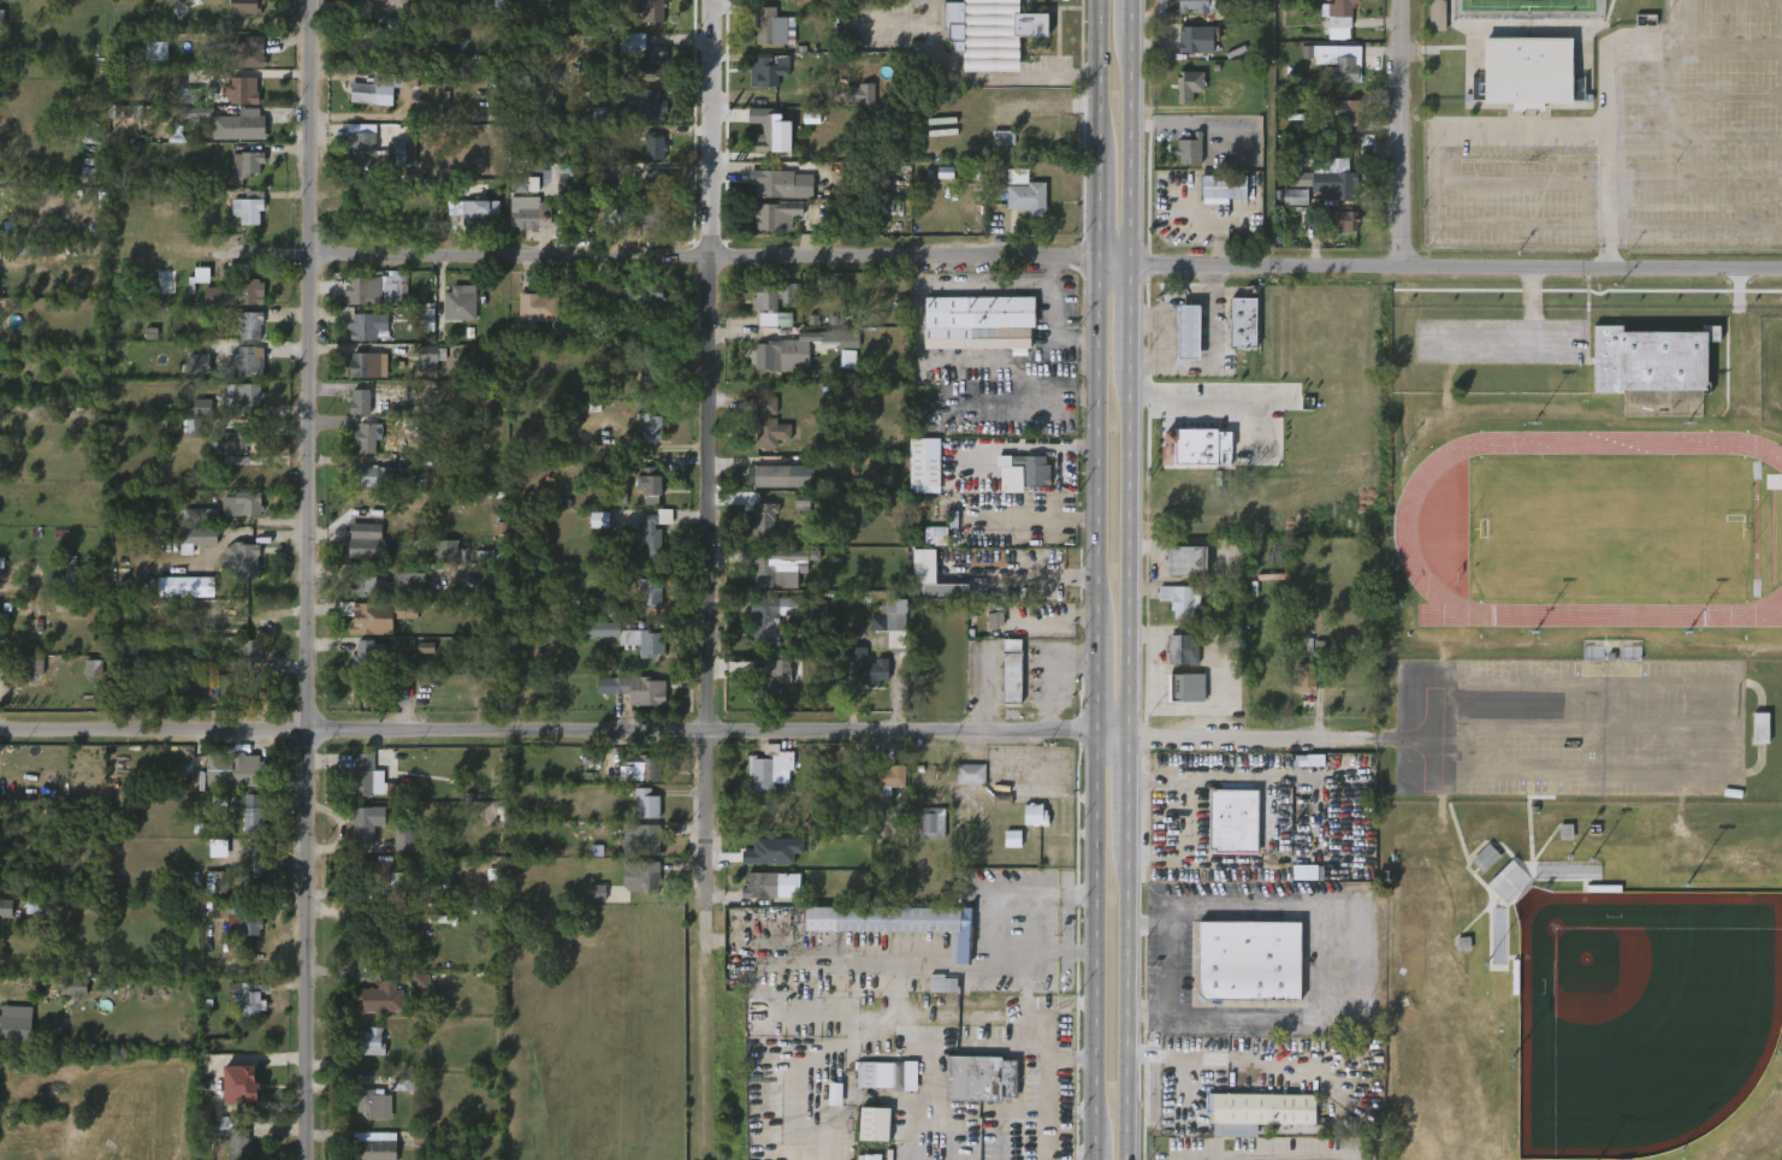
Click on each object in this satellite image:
building: (386, 0)
park: (1533, 4)
building: (249, 6)
building: (502, 6)
building: (586, 6)
building: (1196, 6)
building: (652, 10)
building: (1337, 12)
building: (1434, 14)
road: (1131, 18)
building: (0, 22)
building: (772, 25)
building: (988, 31)
building: (372, 37)
building: (1194, 37)
building: (641, 51)
building: (156, 52)
building: (255, 52)
building: (522, 58)
building: (1334, 64)
building: (772, 70)
building: (1528, 71)
road: (1100, 76)
road: (985, 77)
building: (434, 78)
building: (1186, 84)
building: (497, 88)
building: (244, 90)
building: (366, 91)
building: (1478, 93)
building: (858, 95)
building: (189, 96)
building: (643, 108)
building: (1339, 110)
building: (196, 113)
building: (600, 117)
road: (403, 119)
park: (1603, 123)
building: (248, 124)
building: (772, 131)
road: (1409, 136)
building: (1004, 138)
road: (1137, 142)
road: (1190, 143)
building: (655, 147)
building: (359, 149)
road: (1130, 150)
building: (1190, 150)
building: (401, 152)
building: (245, 164)
building: (1183, 165)
building: (946, 172)
building: (572, 174)
building: (769, 182)
building: (657, 183)
building: (1336, 183)
building: (525, 185)
building: (1222, 189)
building: (1023, 193)
building: (1295, 197)
building: (1216, 203)
building: (368, 205)
road: (1100, 208)
building: (247, 209)
building: (67, 212)
building: (482, 212)
building: (532, 212)
building: (641, 215)
building: (775, 215)
building: (1339, 219)
building: (6, 230)
building: (30, 249)
road: (665, 255)
road: (1114, 265)
road: (1455, 272)
building: (202, 276)
building: (235, 286)
road: (970, 286)
building: (375, 290)
building: (646, 294)
building: (772, 301)
road: (1050, 302)
building: (458, 306)
building: (535, 309)
building: (428, 319)
road: (1130, 319)
building: (977, 322)
building: (1243, 324)
building: (249, 326)
building: (369, 326)
building: (1188, 333)
road: (1068, 342)
building: (792, 356)
building: (431, 357)
building: (847, 359)
building: (1651, 361)
building: (199, 363)
building: (245, 363)
building: (651, 363)
building: (369, 365)
building: (242, 395)
road: (1222, 396)
building: (362, 402)
building: (202, 407)
building: (0, 421)
building: (769, 425)
building: (650, 427)
building: (199, 428)
building: (368, 438)
building: (231, 442)
road: (1097, 442)
building: (1196, 448)
building: (924, 466)
building: (1032, 468)
building: (380, 473)
building: (770, 474)
building: (1010, 477)
road: (709, 478)
building: (649, 484)
building: (617, 495)
building: (245, 504)
building: (200, 516)
road: (1034, 517)
building: (766, 519)
building: (599, 520)
building: (652, 529)
building: (936, 535)
building: (196, 539)
building: (365, 541)
park: (1611, 548)
building: (449, 550)
road: (1129, 555)
building: (1186, 558)
building: (243, 561)
building: (1, 563)
building: (777, 563)
building: (924, 567)
road: (1025, 575)
road: (304, 579)
building: (386, 584)
building: (187, 586)
building: (493, 591)
building: (650, 592)
building: (946, 592)
building: (1182, 600)
building: (120, 615)
building: (895, 615)
building: (367, 617)
building: (995, 620)
building: (764, 621)
building: (626, 637)
building: (1184, 650)
building: (244, 656)
building: (32, 665)
building: (868, 665)
building: (93, 668)
building: (1012, 669)
road: (1047, 673)
building: (368, 674)
building: (1306, 677)
road: (1096, 679)
building: (771, 682)
building: (1179, 687)
building: (251, 690)
building: (644, 691)
road: (985, 692)
road: (1423, 709)
park: (1588, 722)
road: (1574, 727)
parking lot: (1569, 728)
building: (1758, 728)
road: (547, 730)
road: (1248, 738)
road: (1112, 739)
building: (593, 757)
building: (231, 769)
building: (641, 769)
building: (766, 770)
building: (970, 774)
road: (1723, 774)
building: (361, 775)
building: (887, 777)
road: (1127, 792)
building: (1002, 800)
building: (645, 803)
building: (251, 815)
building: (1034, 815)
road: (1320, 818)
building: (1233, 822)
building: (929, 823)
building: (895, 824)
building: (862, 825)
road: (339, 829)
building: (362, 834)
building: (651, 838)
building: (1012, 839)
building: (1485, 858)
building: (375, 870)
building: (250, 871)
building: (1308, 872)
building: (493, 874)
building: (644, 877)
building: (217, 883)
building: (758, 886)
building: (597, 893)
building: (32, 907)
building: (6, 909)
building: (245, 917)
building: (437, 919)
building: (913, 923)
road: (994, 933)
road: (1095, 937)
building: (385, 942)
road: (884, 952)
road: (1321, 957)
building: (1250, 961)
road: (1166, 967)
building: (421, 982)
building: (939, 983)
building: (73, 987)
building: (249, 998)
building: (380, 999)
road: (1127, 1002)
park: (1639, 1022)
building: (14, 1024)
building: (373, 1043)
building: (887, 1073)
building: (978, 1078)
building: (241, 1084)
building: (405, 1085)
road: (1044, 1085)
building: (835, 1094)
building: (375, 1102)
building: (1259, 1112)
building: (874, 1124)
building: (232, 1135)
building: (379, 1146)
road: (1095, 1149)
road: (1272, 1150)
road: (1067, 1153)
building: (869, 1158)

